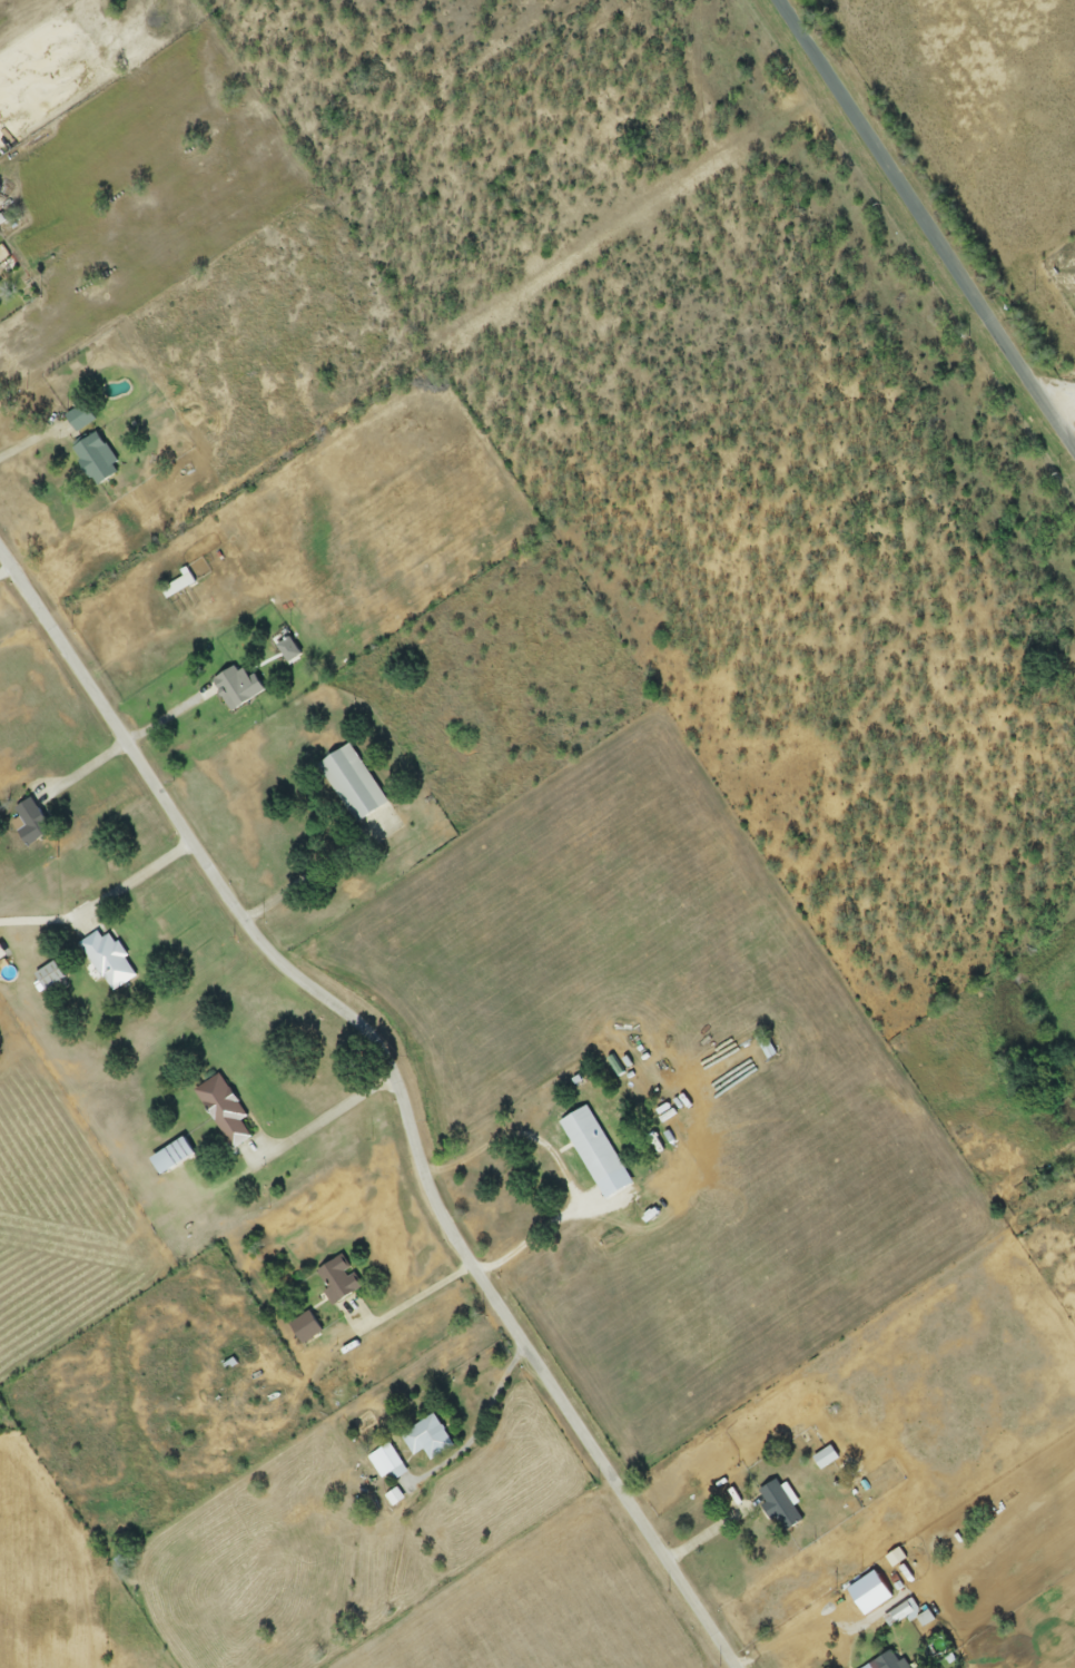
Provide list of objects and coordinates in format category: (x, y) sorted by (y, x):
road: (928, 222)
road: (1065, 406)
road: (29, 443)
building: (95, 460)
road: (7, 571)
building: (177, 587)
building: (234, 689)
road: (170, 719)
road: (86, 771)
building: (352, 784)
building: (30, 824)
road: (310, 876)
road: (139, 881)
building: (107, 961)
building: (48, 977)
road: (396, 1088)
building: (223, 1111)
road: (328, 1121)
building: (584, 1139)
building: (171, 1157)
road: (560, 1167)
building: (337, 1282)
road: (422, 1299)
building: (305, 1328)
road: (484, 1427)
building: (427, 1440)
building: (825, 1459)
building: (387, 1464)
building: (778, 1507)
road: (714, 1533)
building: (900, 1616)

